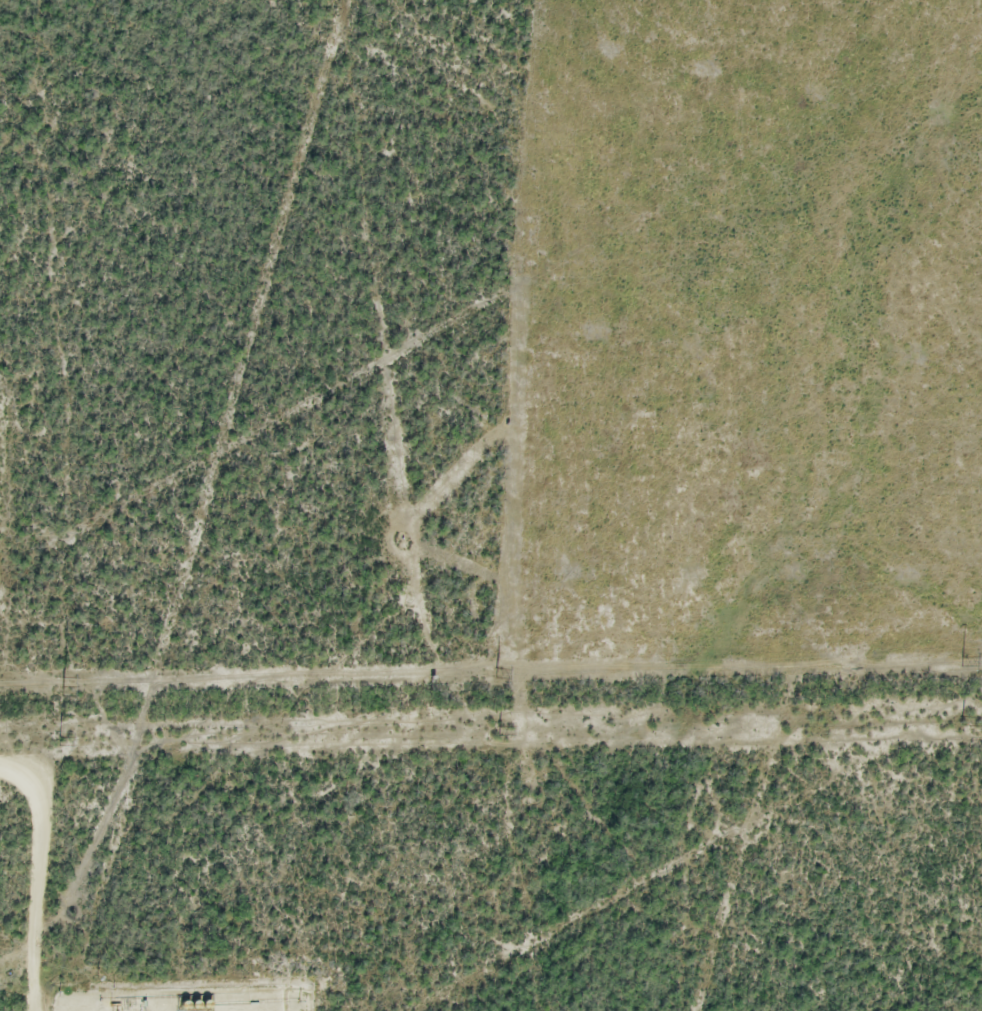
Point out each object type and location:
power tower: (961, 660)
power tower: (496, 672)
power tower: (60, 681)
power tower: (963, 722)
power tower: (499, 732)
power tower: (59, 741)
road: (36, 881)

